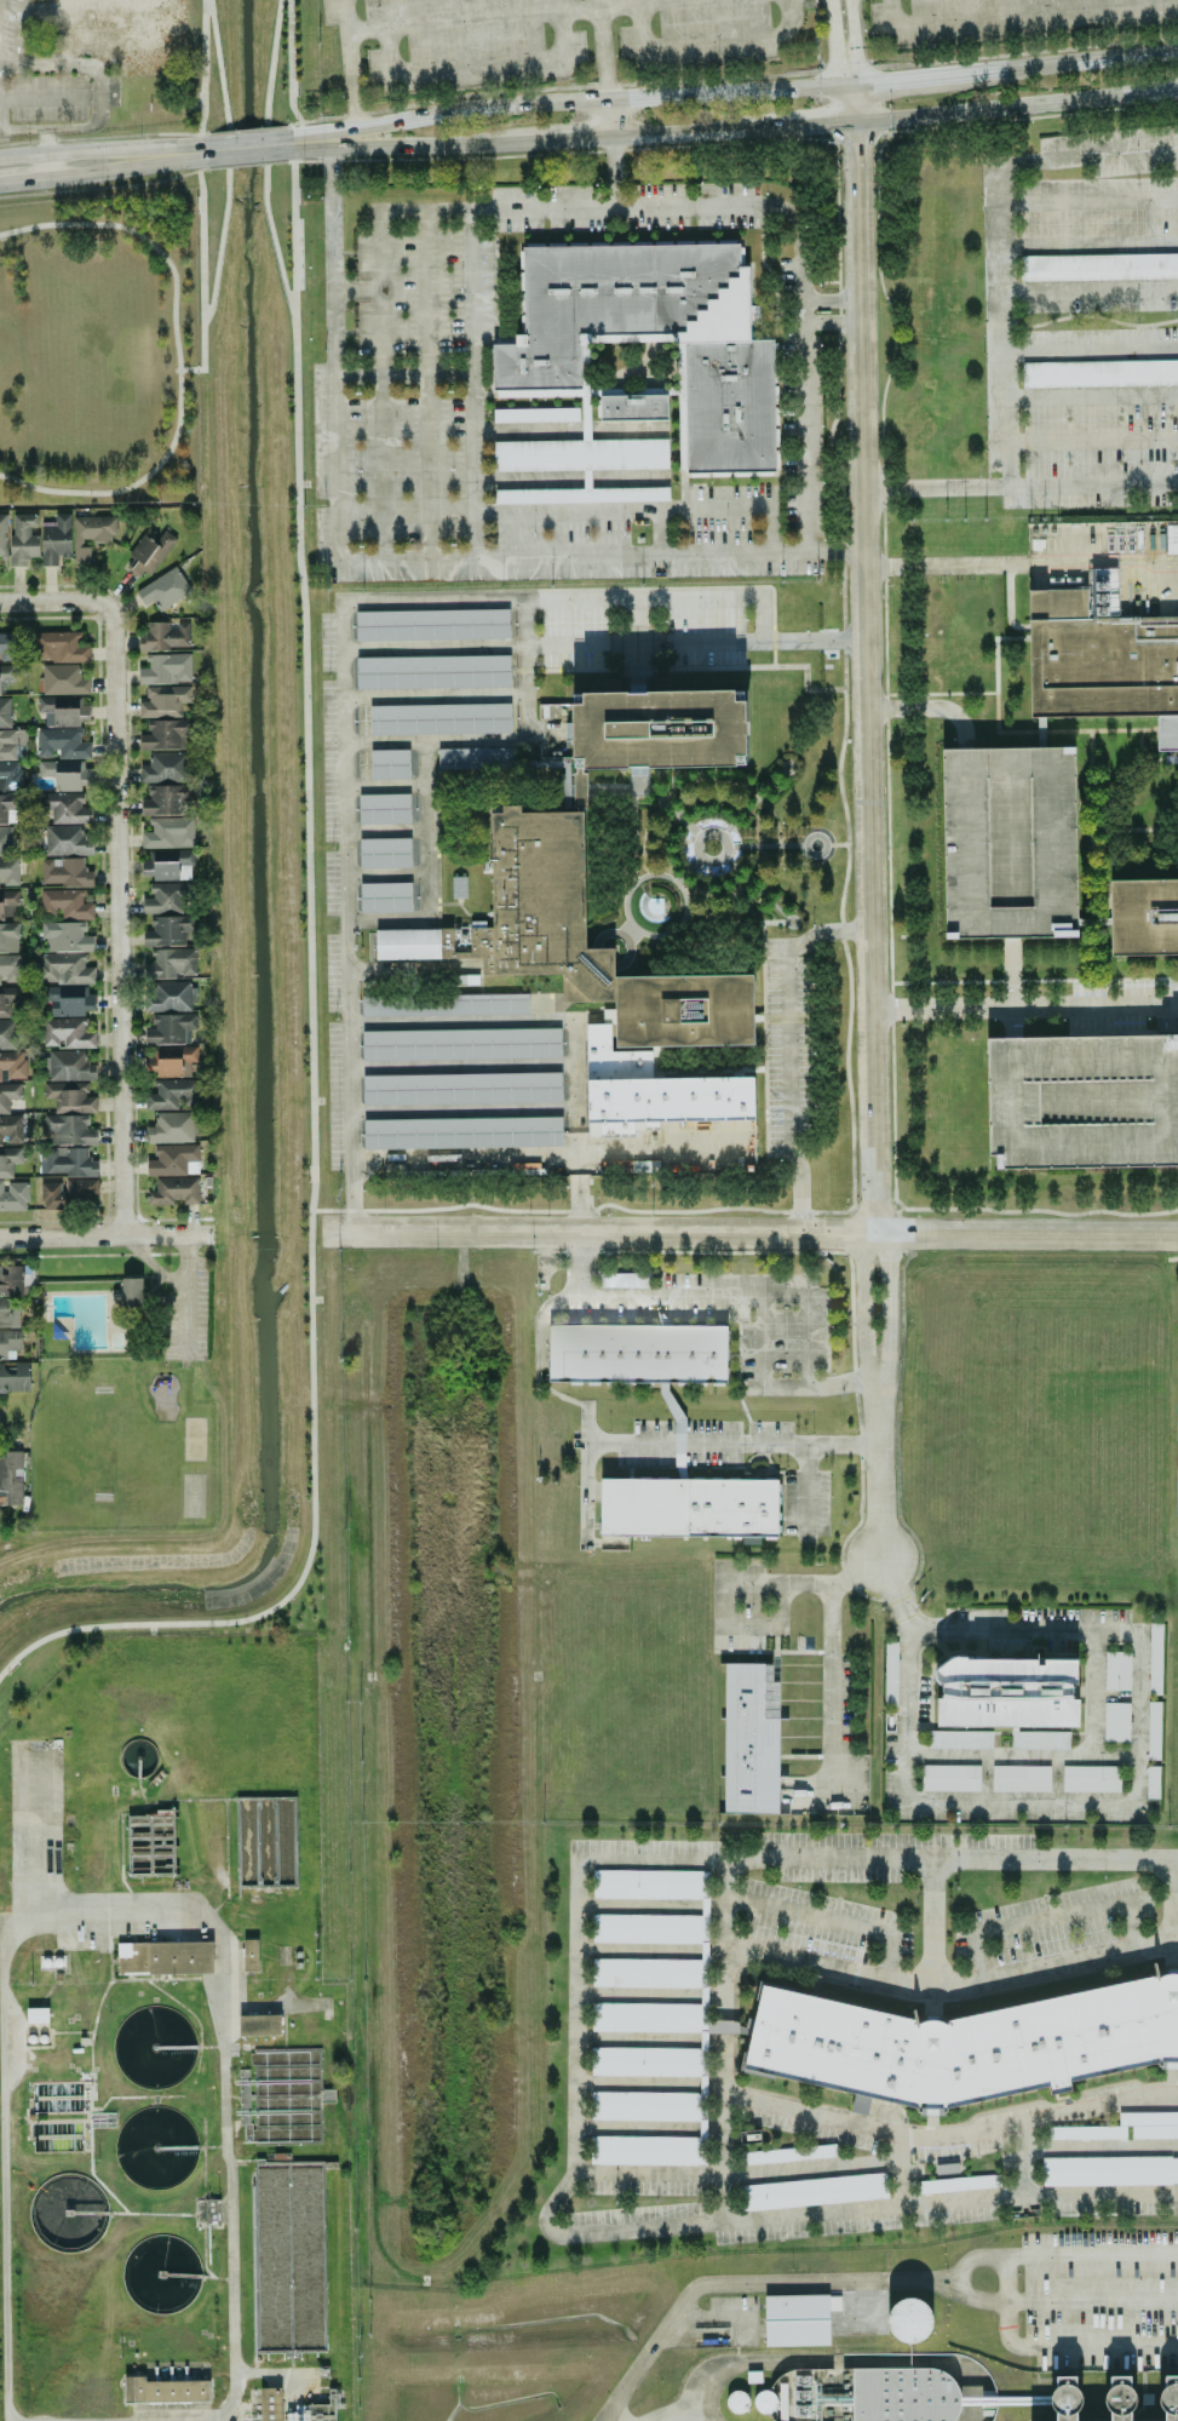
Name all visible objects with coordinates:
road: (1018, 15)
road: (522, 16)
building: (120, 27)
road: (16, 33)
road: (815, 34)
parking lot: (666, 35)
road: (705, 44)
road: (851, 44)
road: (835, 45)
road: (602, 50)
traffic signals: (838, 59)
road: (347, 62)
road: (1080, 62)
road: (473, 63)
road: (291, 67)
road: (203, 70)
road: (809, 73)
road: (916, 80)
traffic signals: (886, 84)
road: (1176, 90)
road: (96, 97)
road: (41, 98)
road: (574, 102)
road: (851, 105)
road: (1013, 108)
road: (369, 111)
road: (609, 119)
road: (292, 125)
road: (804, 125)
traffic signals: (815, 125)
road: (246, 131)
road: (683, 133)
road: (252, 137)
road: (563, 140)
road: (42, 142)
traffic signals: (855, 143)
road: (403, 147)
road: (100, 150)
road: (248, 155)
road: (1087, 155)
road: (289, 161)
road: (248, 165)
road: (45, 167)
road: (125, 168)
road: (610, 173)
road: (23, 180)
road: (229, 197)
road: (1088, 199)
road: (626, 207)
road: (295, 228)
road: (202, 236)
road: (1088, 246)
road: (379, 249)
building: (1099, 266)
road: (355, 289)
road: (1088, 289)
road: (423, 293)
road: (828, 299)
road: (828, 322)
road: (1000, 327)
park: (99, 351)
building: (728, 351)
road: (1090, 351)
road: (176, 358)
building: (1101, 373)
road: (401, 375)
road: (1090, 395)
building: (633, 407)
building: (535, 414)
road: (567, 430)
road: (1091, 441)
building: (580, 454)
road: (379, 467)
road: (426, 467)
road: (568, 480)
road: (1091, 484)
road: (932, 488)
building: (581, 494)
road: (642, 509)
road: (655, 532)
building: (91, 534)
building: (2, 535)
building: (23, 538)
building: (56, 539)
building: (149, 551)
road: (392, 560)
road: (1021, 563)
building: (163, 589)
road: (548, 599)
road: (48, 601)
road: (759, 620)
road: (631, 621)
building: (431, 624)
building: (163, 636)
building: (7, 646)
road: (603, 646)
building: (58, 647)
building: (1102, 655)
building: (166, 669)
building: (432, 671)
building: (6, 675)
road: (867, 677)
building: (63, 679)
road: (431, 696)
building: (163, 701)
building: (63, 710)
road: (926, 711)
building: (5, 712)
building: (439, 718)
building: (654, 732)
building: (163, 735)
road: (501, 741)
building: (12, 744)
building: (62, 744)
building: (473, 757)
building: (389, 763)
building: (166, 767)
building: (64, 773)
building: (10, 775)
road: (383, 785)
building: (167, 799)
building: (64, 807)
building: (7, 808)
building: (384, 808)
road: (383, 830)
building: (168, 832)
building: (65, 839)
building: (6, 841)
building: (1007, 842)
parking garage: (1007, 842)
building: (384, 853)
building: (167, 864)
road: (424, 871)
building: (8, 872)
building: (64, 872)
road: (384, 876)
building: (385, 896)
building: (166, 899)
building: (8, 903)
building: (64, 903)
road: (119, 913)
building: (1144, 914)
road: (344, 917)
building: (167, 931)
building: (8, 936)
building: (65, 936)
road: (305, 956)
building: (171, 963)
building: (10, 968)
road: (412, 968)
building: (63, 969)
road: (1006, 971)
building: (596, 980)
building: (167, 996)
building: (7, 999)
building: (69, 1000)
building: (444, 1004)
road: (1025, 1005)
road: (1016, 1021)
road: (458, 1022)
building: (169, 1028)
building: (7, 1033)
building: (67, 1033)
building: (461, 1043)
road: (785, 1044)
building: (169, 1061)
building: (12, 1065)
building: (68, 1065)
road: (459, 1066)
building: (461, 1088)
building: (173, 1094)
building: (8, 1095)
building: (69, 1097)
building: (1082, 1100)
parking garage: (1082, 1100)
road: (460, 1111)
road: (574, 1125)
building: (172, 1128)
building: (10, 1129)
building: (69, 1130)
building: (462, 1132)
road: (653, 1149)
road: (461, 1155)
building: (173, 1159)
building: (8, 1160)
building: (67, 1160)
building: (174, 1191)
building: (69, 1192)
building: (13, 1195)
road: (317, 1230)
road: (599, 1232)
road: (1027, 1233)
road: (168, 1235)
road: (62, 1237)
road: (579, 1262)
building: (15, 1279)
building: (131, 1291)
road: (684, 1293)
road: (863, 1306)
road: (883, 1306)
building: (8, 1312)
building: (8, 1341)
building: (637, 1353)
building: (15, 1376)
road: (771, 1386)
building: (1177, 1438)
parking garage: (1177, 1438)
road: (729, 1441)
road: (874, 1468)
road: (582, 1473)
building: (11, 1478)
road: (804, 1490)
building: (689, 1505)
road: (803, 1584)
road: (891, 1594)
road: (720, 1607)
road: (775, 1607)
road: (747, 1629)
building: (1155, 1658)
building: (1117, 1670)
building: (890, 1673)
road: (829, 1687)
building: (1006, 1692)
road: (1091, 1696)
building: (1116, 1721)
building: (1154, 1729)
building: (960, 1739)
building: (1040, 1739)
road: (1019, 1757)
building: (950, 1777)
building: (1021, 1778)
building: (1091, 1778)
building: (1153, 1782)
road: (824, 1791)
road: (1134, 1801)
road: (30, 1836)
road: (948, 1858)
building: (650, 1883)
road: (1170, 1900)
road: (647, 1905)
road: (1047, 1917)
road: (826, 1921)
road: (929, 1924)
building: (650, 1928)
road: (645, 1950)
building: (249, 1954)
building: (163, 1957)
building: (647, 1972)
road: (571, 1985)
road: (948, 1989)
road: (645, 1995)
building: (36, 2014)
road: (224, 2015)
building: (259, 2025)
road: (645, 2038)
building: (966, 2043)
wastewater plant: (171, 2044)
road: (719, 2044)
road: (645, 2083)
building: (702, 2083)
building: (280, 2096)
building: (1150, 2124)
road: (645, 2128)
building: (1086, 2132)
road: (948, 2136)
road: (1099, 2147)
building: (788, 2153)
road: (1022, 2158)
road: (809, 2167)
road: (901, 2170)
building: (1110, 2170)
road: (644, 2173)
building: (958, 2182)
building: (814, 2191)
road: (872, 2208)
road: (10, 2216)
road: (708, 2319)
building: (797, 2319)
building: (908, 2320)
wastewater plant: (795, 2335)
road: (649, 2346)
building: (163, 2390)
building: (904, 2394)
building: (269, 2404)
building: (1165, 2405)
building: (309, 2413)
building: (1115, 2414)

